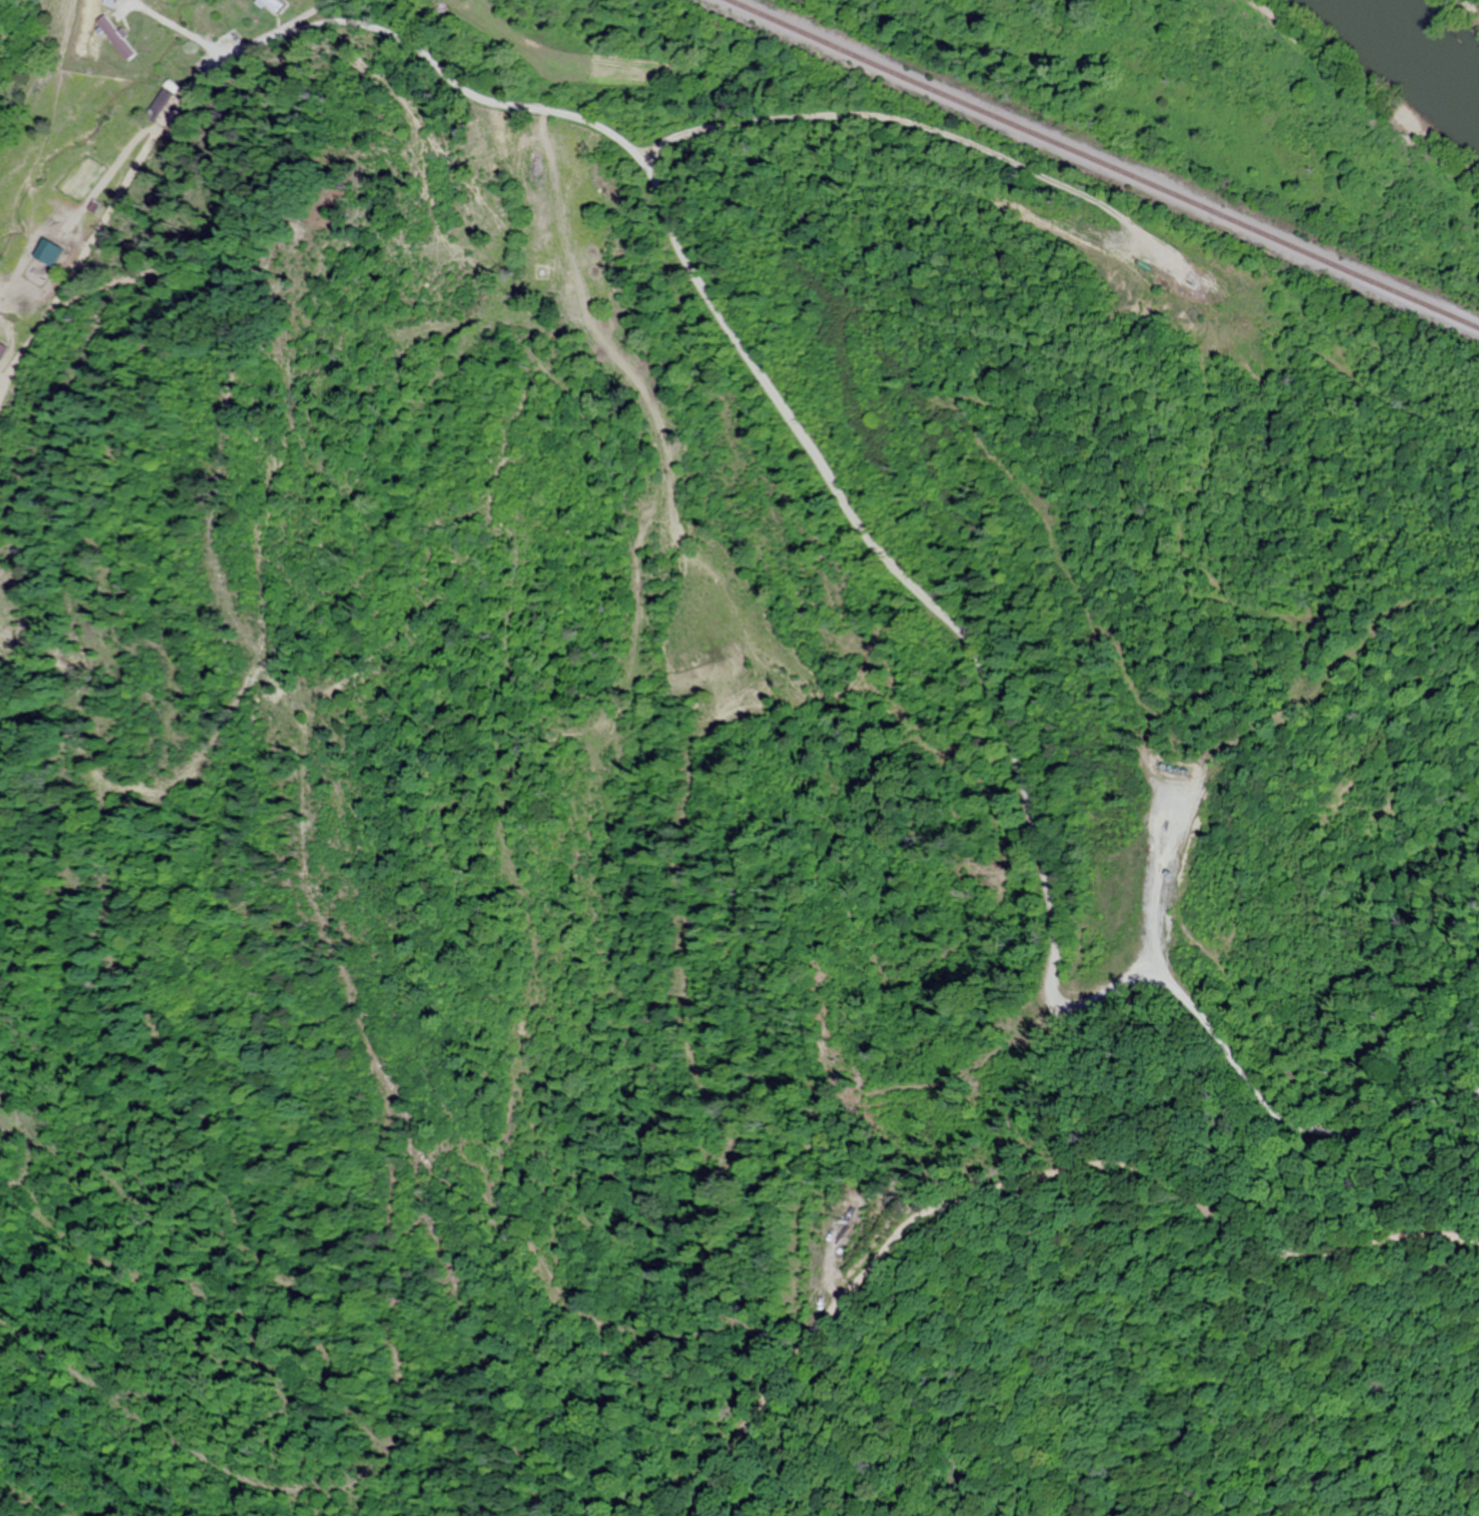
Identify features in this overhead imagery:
river: (1418, 40)
railway: (1105, 165)
road: (906, 584)
road: (1000, 1177)

